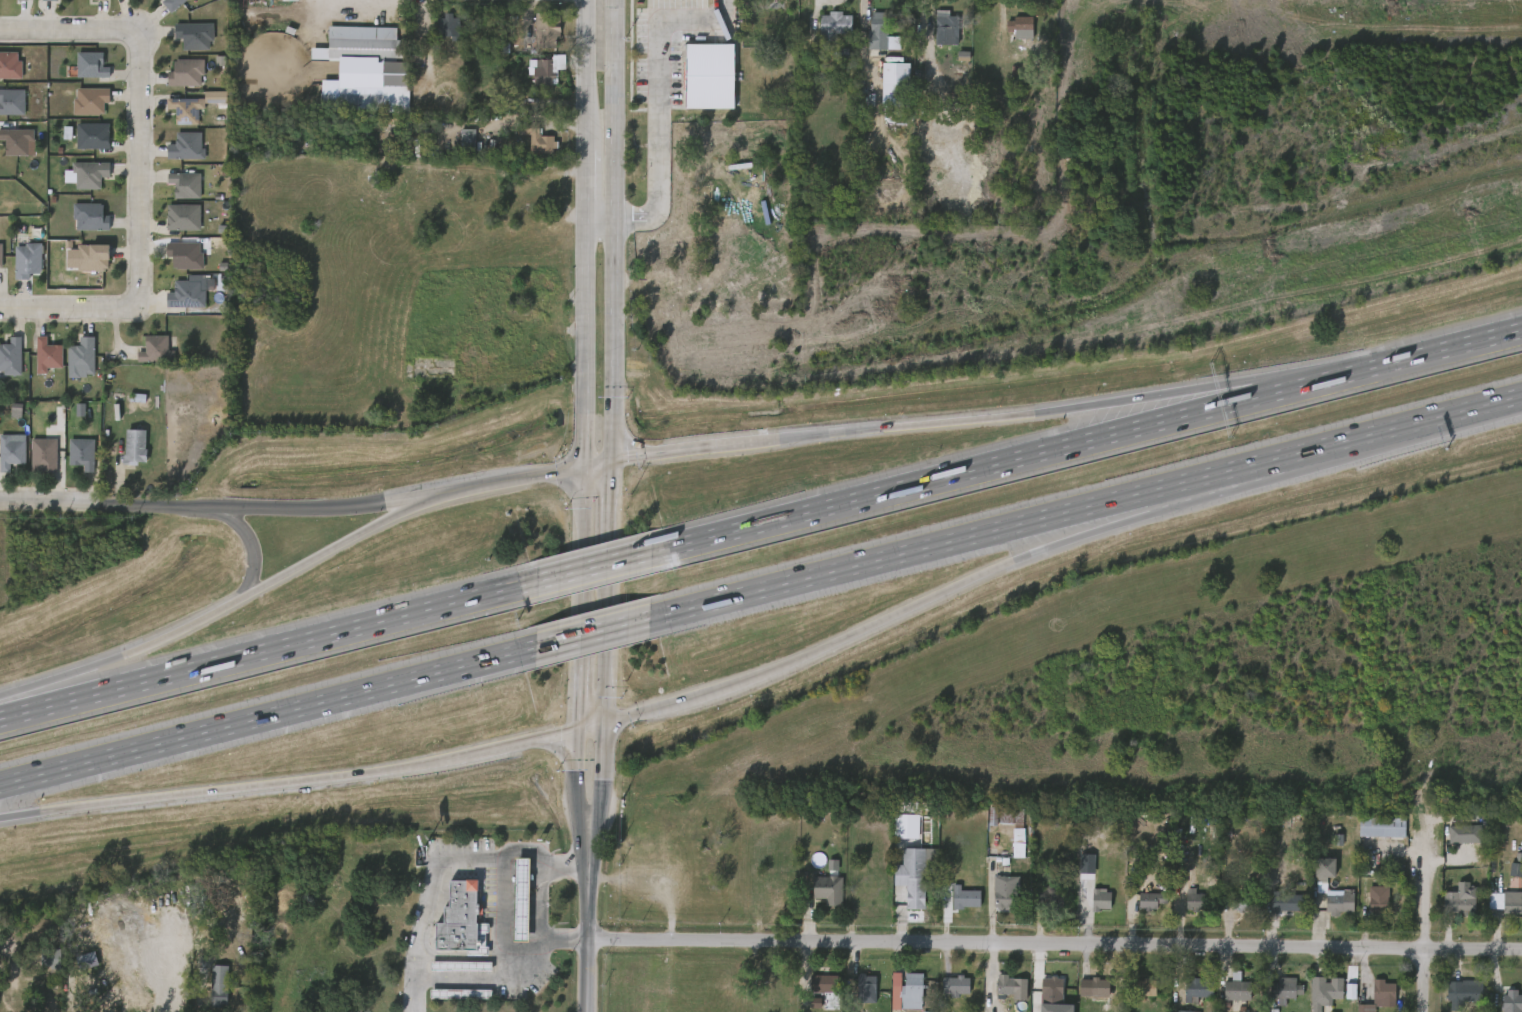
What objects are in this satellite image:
building: (25, 0)
building: (101, 0)
building: (12, 3)
building: (40, 3)
building: (90, 3)
building: (172, 3)
building: (837, 24)
building: (444, 25)
building: (947, 27)
building: (1020, 27)
road: (69, 30)
building: (547, 30)
building: (825, 31)
building: (1010, 34)
building: (936, 35)
building: (195, 36)
building: (880, 36)
building: (869, 39)
building: (359, 43)
building: (11, 64)
building: (95, 64)
building: (548, 70)
building: (82, 72)
building: (189, 72)
road: (589, 75)
building: (177, 80)
building: (700, 82)
building: (885, 91)
road: (658, 97)
building: (338, 98)
building: (94, 99)
building: (14, 100)
building: (81, 107)
building: (342, 107)
building: (187, 108)
building: (96, 135)
building: (468, 139)
building: (541, 140)
building: (83, 142)
building: (18, 143)
building: (187, 146)
building: (458, 147)
building: (529, 148)
road: (138, 169)
building: (93, 173)
building: (79, 181)
building: (189, 183)
road: (587, 184)
building: (176, 191)
building: (95, 216)
building: (184, 216)
road: (601, 218)
building: (81, 224)
building: (174, 224)
building: (2, 254)
building: (185, 254)
building: (97, 256)
building: (31, 259)
building: (84, 264)
building: (18, 267)
building: (186, 293)
road: (68, 308)
road: (585, 341)
road: (1468, 343)
building: (160, 349)
building: (51, 355)
building: (86, 355)
building: (12, 356)
building: (147, 356)
road: (613, 361)
building: (38, 362)
building: (72, 365)
road: (1286, 374)
road: (1483, 403)
road: (884, 428)
building: (135, 447)
building: (14, 452)
road: (1036, 452)
building: (86, 453)
building: (125, 453)
building: (49, 454)
building: (73, 460)
traffic signals: (610, 460)
building: (34, 461)
road: (598, 462)
traffic signals: (586, 465)
road: (512, 479)
road: (1256, 482)
road: (105, 505)
road: (414, 505)
road: (325, 507)
road: (1057, 512)
road: (223, 513)
road: (583, 546)
road: (253, 557)
road: (588, 567)
road: (226, 603)
road: (600, 629)
road: (836, 641)
road: (259, 651)
road: (579, 677)
road: (29, 684)
road: (265, 714)
traffic signals: (601, 722)
road: (589, 725)
traffic signals: (578, 728)
road: (600, 778)
road: (290, 781)
road: (577, 781)
building: (1012, 821)
building: (1382, 828)
building: (1008, 850)
building: (1324, 868)
building: (1314, 875)
building: (1505, 876)
building: (911, 878)
building: (827, 890)
building: (1005, 891)
building: (818, 896)
building: (1046, 896)
building: (962, 897)
building: (521, 898)
gas station: (521, 898)
road: (504, 899)
building: (995, 899)
building: (1378, 899)
road: (424, 900)
building: (1150, 900)
building: (1460, 900)
building: (1196, 901)
building: (1241, 902)
building: (1339, 902)
building: (1286, 903)
building: (1511, 903)
building: (955, 904)
building: (1085, 905)
building: (512, 906)
building: (1368, 906)
building: (1140, 907)
building: (1184, 907)
building: (1494, 908)
building: (1277, 911)
building: (459, 921)
road: (590, 923)
road: (1428, 927)
road: (1056, 947)
building: (462, 966)
gas station: (462, 966)
road: (476, 980)
building: (823, 983)
building: (955, 985)
building: (216, 986)
building: (1005, 987)
building: (1236, 988)
building: (1096, 989)
building: (1148, 989)
building: (1282, 989)
building: (815, 990)
building: (856, 990)
building: (1196, 990)
building: (1329, 990)
building: (905, 991)
building: (1383, 992)
building: (944, 993)
building: (1084, 993)
building: (1135, 993)
building: (1225, 993)
building: (1461, 993)
building: (462, 994)
gas station: (462, 994)
building: (886, 995)
building: (1041, 996)
building: (1373, 999)
building: (1501, 1004)
building: (1045, 1011)
building: (1184, 1011)

